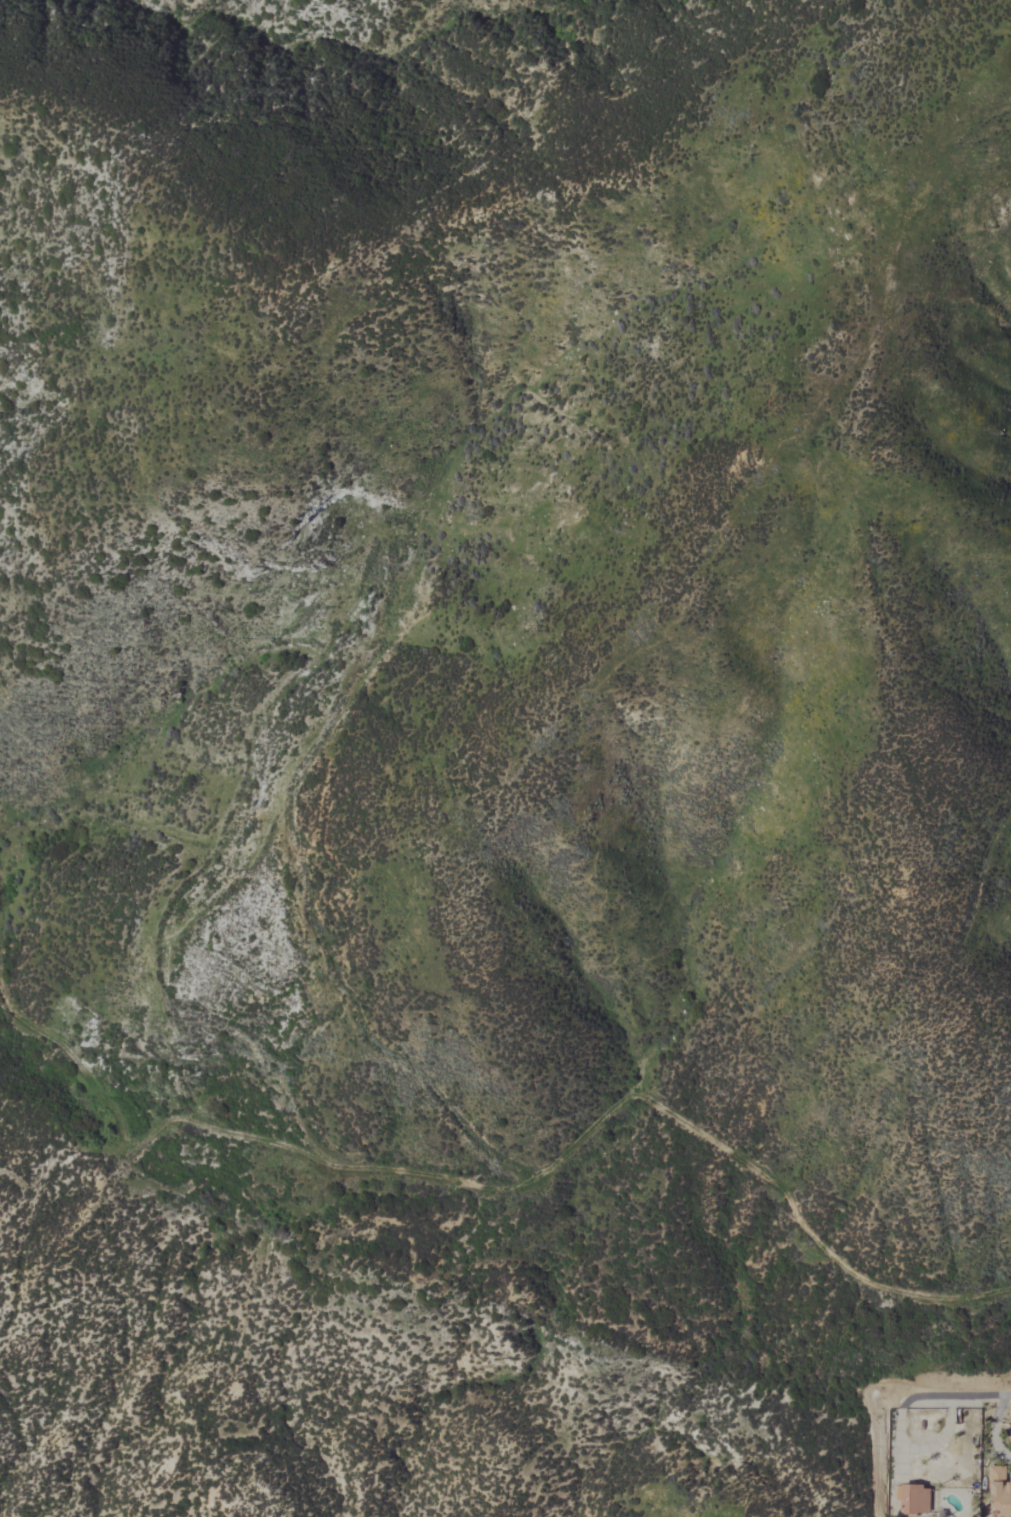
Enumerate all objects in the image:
road: (954, 1395)
building: (1000, 1490)

